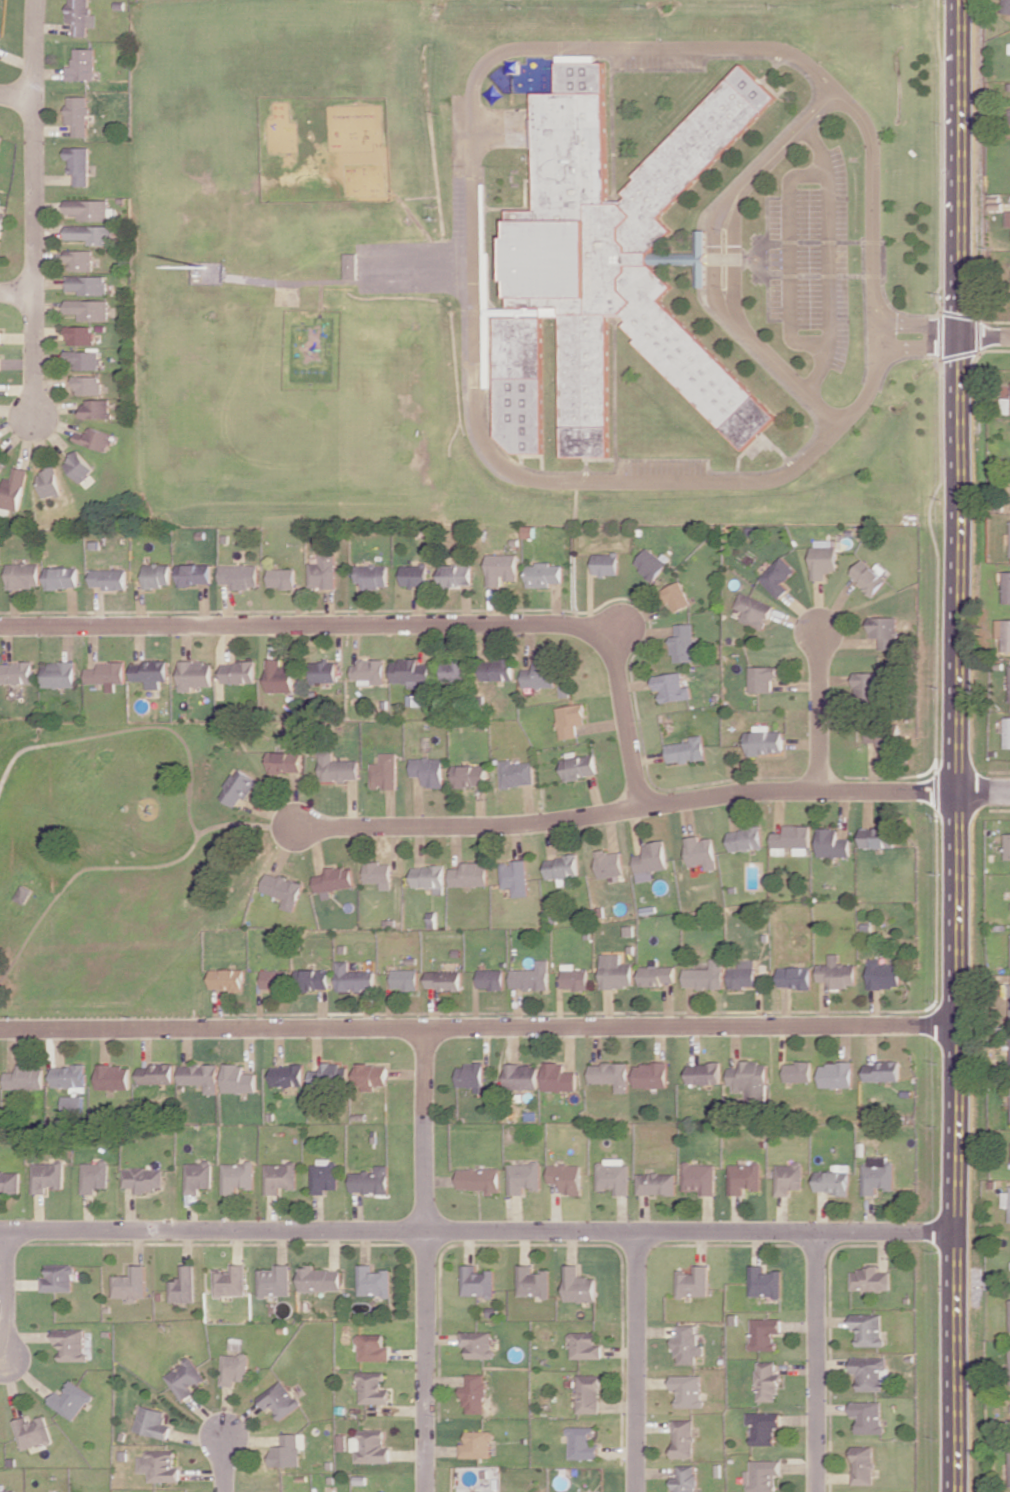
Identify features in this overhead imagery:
building: (81, 16)
building: (1009, 48)
building: (83, 64)
road: (16, 95)
building: (78, 114)
building: (1009, 116)
road: (502, 129)
building: (0, 138)
road: (474, 148)
building: (78, 164)
road: (34, 207)
building: (88, 209)
building: (1008, 218)
building: (1, 222)
building: (90, 233)
flagpole: (754, 257)
road: (735, 259)
building: (79, 260)
road: (714, 262)
road: (790, 262)
road: (829, 262)
flagpole: (205, 265)
building: (351, 265)
building: (615, 267)
building: (86, 284)
road: (16, 293)
building: (88, 309)
road: (920, 328)
building: (79, 335)
building: (1, 337)
road: (987, 337)
road: (920, 352)
building: (84, 359)
building: (1, 363)
building: (87, 384)
building: (1005, 405)
building: (96, 408)
building: (94, 438)
building: (2, 466)
building: (79, 466)
building: (51, 483)
building: (15, 489)
building: (823, 557)
building: (606, 563)
building: (651, 563)
building: (503, 568)
building: (323, 571)
building: (195, 574)
building: (545, 574)
building: (24, 575)
building: (158, 575)
building: (240, 575)
building: (415, 575)
building: (457, 575)
building: (372, 576)
building: (778, 576)
building: (870, 576)
building: (63, 577)
building: (110, 578)
building: (282, 578)
building: (1006, 587)
building: (678, 596)
building: (754, 610)
road: (402, 623)
building: (886, 631)
building: (1004, 632)
building: (685, 643)
building: (498, 669)
building: (454, 670)
building: (323, 671)
building: (369, 671)
building: (18, 672)
building: (151, 672)
building: (239, 672)
building: (410, 672)
building: (60, 674)
building: (108, 674)
building: (195, 674)
building: (541, 674)
building: (280, 675)
building: (762, 678)
building: (869, 684)
building: (672, 687)
building: (415, 700)
road: (819, 710)
building: (571, 719)
building: (1007, 732)
building: (884, 738)
building: (765, 740)
road: (964, 746)
building: (687, 750)
building: (286, 761)
building: (580, 765)
building: (338, 767)
building: (430, 770)
building: (385, 772)
building: (517, 773)
building: (471, 775)
building: (239, 787)
road: (987, 791)
road: (632, 807)
building: (879, 836)
building: (745, 839)
building: (791, 839)
building: (833, 843)
building: (1007, 846)
building: (700, 852)
building: (651, 861)
building: (609, 863)
building: (562, 866)
park: (114, 871)
building: (379, 873)
building: (470, 874)
building: (430, 877)
building: (515, 877)
building: (334, 880)
building: (284, 889)
building: (24, 894)
building: (617, 972)
building: (836, 972)
building: (658, 974)
building: (742, 974)
building: (882, 974)
building: (706, 976)
building: (532, 977)
building: (575, 977)
building: (794, 977)
building: (312, 978)
building: (354, 978)
building: (227, 979)
building: (275, 979)
building: (405, 979)
building: (491, 979)
building: (444, 980)
road: (483, 1026)
building: (882, 1071)
building: (797, 1072)
building: (705, 1073)
building: (157, 1074)
building: (612, 1074)
building: (835, 1074)
building: (289, 1075)
building: (331, 1075)
building: (373, 1075)
building: (472, 1075)
building: (652, 1075)
building: (0, 1076)
building: (115, 1076)
building: (201, 1076)
building: (523, 1076)
building: (71, 1077)
building: (560, 1077)
building: (27, 1078)
building: (239, 1079)
building: (750, 1080)
building: (74, 1103)
building: (615, 1175)
building: (878, 1175)
building: (49, 1176)
building: (96, 1176)
building: (199, 1176)
building: (326, 1176)
building: (238, 1177)
building: (281, 1177)
building: (525, 1177)
building: (568, 1177)
building: (745, 1177)
building: (145, 1178)
building: (701, 1178)
building: (789, 1178)
building: (481, 1179)
building: (834, 1179)
building: (11, 1181)
building: (372, 1181)
building: (658, 1183)
building: (1006, 1199)
road: (483, 1230)
road: (425, 1259)
building: (60, 1278)
building: (320, 1279)
building: (871, 1279)
building: (231, 1281)
building: (275, 1281)
building: (374, 1281)
building: (476, 1281)
building: (695, 1281)
building: (532, 1282)
building: (766, 1282)
building: (131, 1283)
building: (578, 1285)
building: (184, 1286)
road: (6, 1293)
building: (869, 1328)
building: (765, 1333)
building: (73, 1344)
building: (477, 1344)
building: (585, 1345)
building: (688, 1345)
building: (373, 1348)
road: (637, 1361)
road: (818, 1362)
building: (234, 1368)
building: (870, 1372)
building: (185, 1378)
building: (768, 1381)
building: (373, 1388)
building: (689, 1390)
building: (589, 1393)
building: (475, 1394)
building: (280, 1399)
building: (73, 1400)
building: (869, 1416)
building: (153, 1422)
building: (764, 1427)
building: (35, 1432)
building: (684, 1438)
building: (584, 1443)
building: (477, 1444)
building: (371, 1446)
building: (287, 1450)
building: (1009, 1451)
road: (223, 1453)
building: (863, 1465)
building: (161, 1466)
building: (763, 1476)
building: (687, 1478)
building: (8, 1490)

